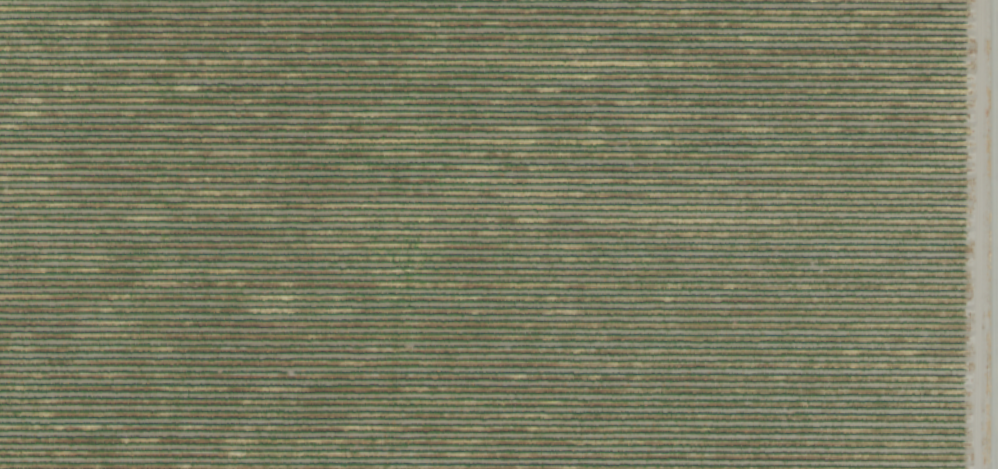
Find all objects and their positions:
road: (990, 234)

